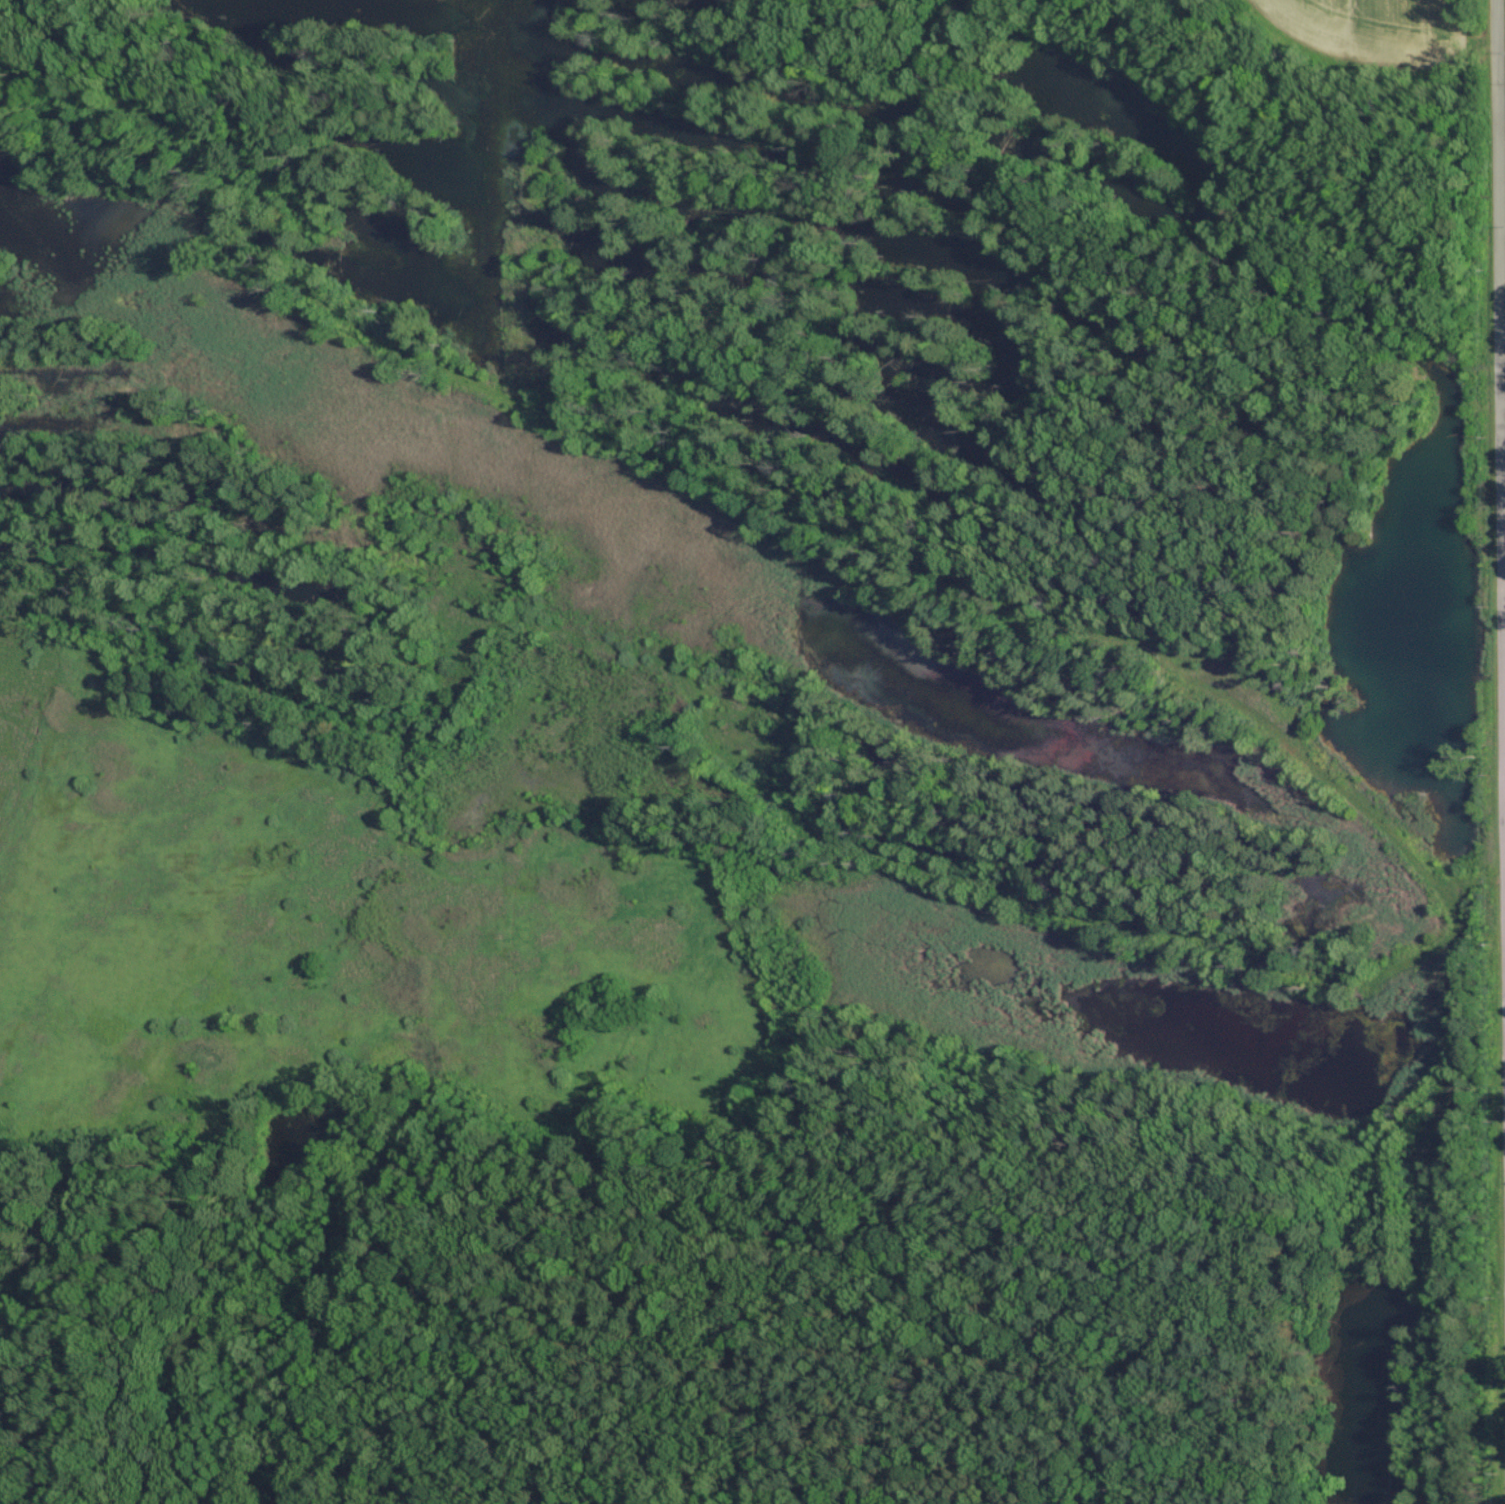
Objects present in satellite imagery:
road: (1501, 348)

